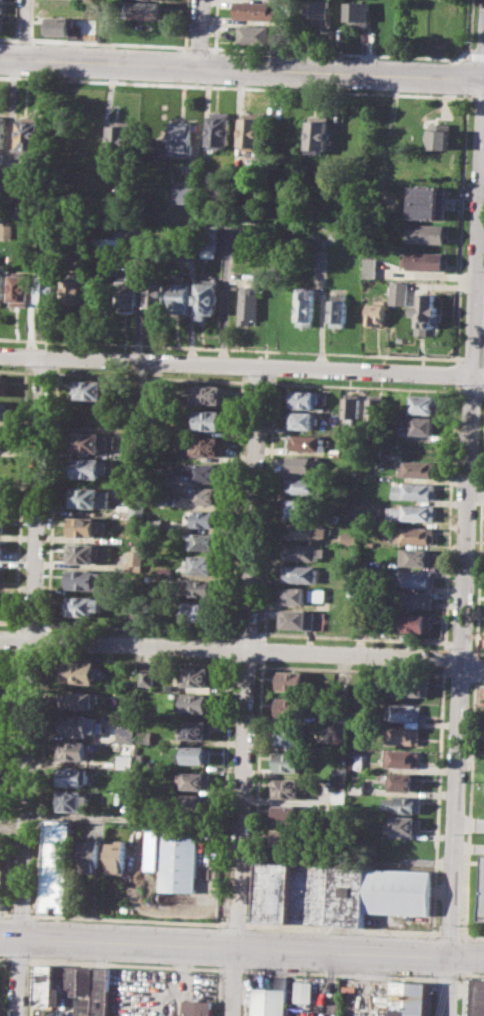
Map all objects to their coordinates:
building: (2, 5)
building: (147, 9)
building: (253, 9)
building: (316, 11)
building: (355, 13)
road: (17, 20)
road: (31, 20)
building: (1, 22)
road: (184, 23)
road: (215, 24)
building: (60, 25)
road: (469, 27)
road: (25, 30)
building: (255, 33)
road: (199, 34)
road: (8, 40)
road: (23, 41)
road: (108, 44)
road: (198, 47)
road: (336, 53)
road: (474, 55)
road: (241, 69)
road: (235, 86)
road: (477, 97)
building: (219, 127)
building: (3, 131)
building: (251, 131)
building: (31, 133)
building: (441, 135)
building: (318, 136)
building: (121, 137)
building: (182, 137)
building: (186, 194)
building: (428, 202)
road: (477, 228)
building: (7, 230)
building: (430, 234)
building: (209, 237)
building: (110, 244)
building: (208, 249)
building: (425, 261)
building: (369, 267)
building: (4, 286)
building: (48, 288)
building: (21, 289)
road: (479, 291)
building: (74, 292)
building: (398, 292)
building: (128, 295)
building: (156, 297)
building: (181, 297)
building: (206, 299)
building: (248, 304)
building: (304, 306)
building: (338, 309)
building: (376, 312)
building: (426, 315)
road: (229, 348)
road: (235, 363)
road: (16, 370)
road: (41, 371)
road: (455, 372)
road: (149, 377)
road: (477, 379)
road: (257, 381)
building: (4, 384)
road: (454, 384)
road: (361, 386)
building: (91, 388)
road: (471, 389)
road: (482, 392)
building: (207, 393)
building: (303, 398)
building: (425, 403)
building: (375, 408)
building: (4, 410)
building: (351, 411)
building: (208, 419)
building: (301, 419)
building: (397, 421)
building: (423, 425)
building: (3, 436)
building: (88, 440)
building: (305, 442)
building: (206, 446)
building: (419, 447)
building: (303, 463)
building: (87, 466)
building: (418, 468)
building: (205, 472)
building: (304, 485)
road: (476, 488)
building: (415, 490)
building: (207, 494)
building: (1, 496)
building: (90, 496)
building: (306, 510)
building: (411, 512)
road: (449, 514)
building: (369, 517)
building: (204, 518)
building: (1, 522)
building: (83, 526)
building: (305, 530)
building: (415, 535)
building: (349, 537)
building: (202, 540)
building: (2, 549)
building: (302, 551)
building: (82, 552)
building: (416, 556)
building: (135, 558)
building: (202, 564)
building: (164, 572)
building: (300, 572)
building: (1, 576)
building: (416, 578)
building: (85, 579)
building: (202, 588)
building: (300, 594)
building: (415, 600)
building: (0, 601)
building: (82, 605)
building: (201, 611)
building: (297, 618)
building: (415, 622)
road: (34, 646)
road: (230, 650)
road: (443, 657)
road: (461, 666)
road: (472, 670)
building: (79, 672)
building: (147, 676)
building: (199, 676)
building: (292, 681)
building: (412, 685)
road: (250, 690)
building: (77, 699)
building: (194, 702)
building: (291, 707)
building: (404, 712)
building: (81, 724)
building: (195, 728)
building: (126, 734)
building: (290, 734)
building: (403, 735)
building: (73, 749)
building: (197, 754)
building: (402, 758)
building: (126, 760)
building: (290, 761)
building: (358, 761)
building: (72, 776)
building: (194, 780)
building: (404, 781)
building: (291, 787)
building: (70, 799)
building: (195, 802)
building: (405, 804)
building: (287, 813)
road: (136, 820)
building: (405, 825)
road: (13, 826)
building: (286, 837)
building: (91, 856)
building: (117, 857)
building: (178, 862)
building: (2, 866)
building: (57, 866)
building: (398, 891)
road: (433, 893)
building: (309, 895)
building: (483, 909)
road: (5, 912)
road: (19, 913)
road: (128, 918)
road: (235, 923)
road: (449, 934)
road: (242, 945)
road: (20, 976)
building: (85, 980)
building: (65, 982)
building: (45, 984)
road: (447, 985)
building: (101, 990)
building: (303, 991)
building: (271, 998)
building: (409, 998)
building: (196, 1009)
building: (300, 1011)

